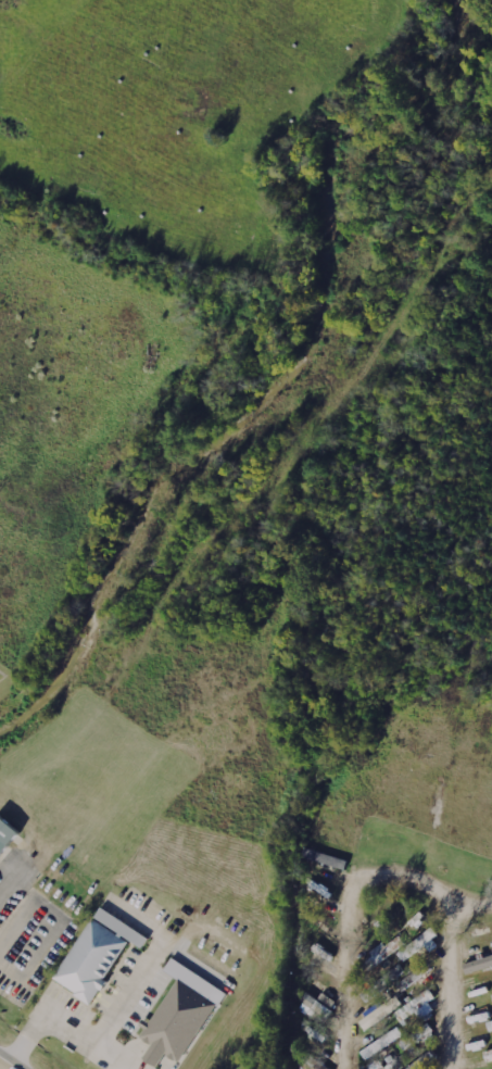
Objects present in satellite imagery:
building: (4, 833)
road: (5, 885)
road: (345, 901)
building: (421, 944)
building: (386, 952)
building: (92, 961)
building: (479, 964)
building: (396, 972)
building: (417, 976)
road: (449, 984)
building: (419, 1007)
building: (381, 1011)
building: (184, 1014)
road: (63, 1022)
building: (490, 1026)
building: (420, 1036)
building: (383, 1043)
building: (489, 1056)
building: (428, 1059)
road: (7, 1065)

